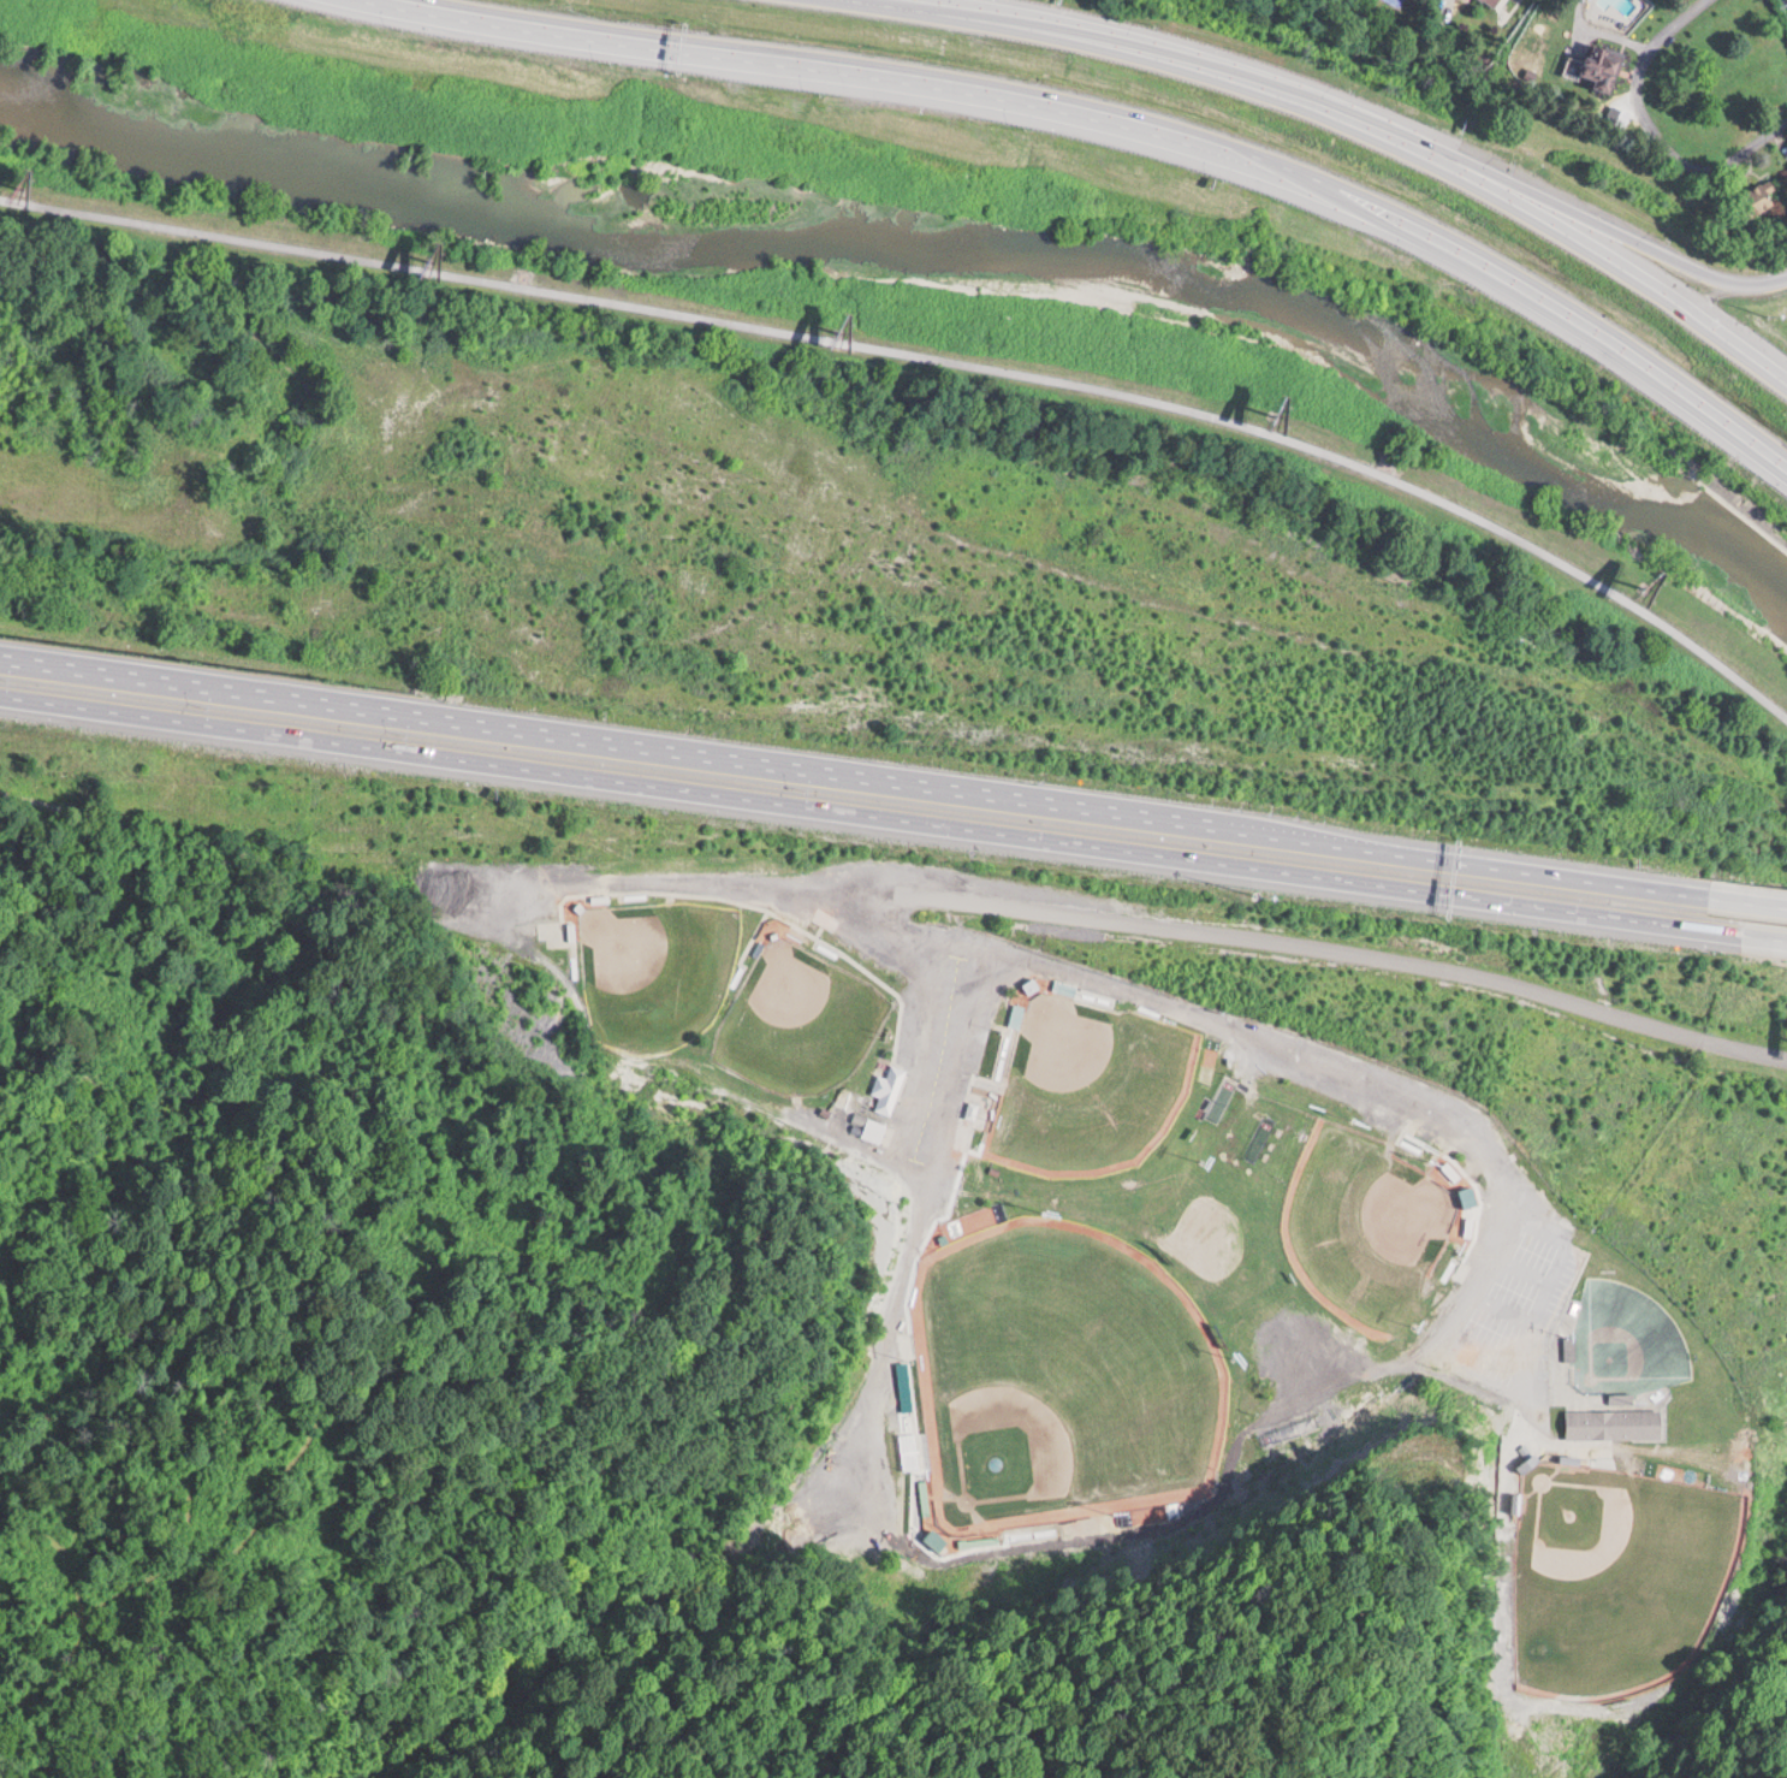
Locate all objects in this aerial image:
building: (1489, 2)
road: (1169, 45)
building: (1604, 67)
road: (1127, 120)
road: (1646, 129)
building: (1765, 197)
road: (1585, 214)
river: (936, 238)
road: (1593, 244)
road: (930, 352)
road: (844, 754)
road: (848, 801)
road: (1738, 885)
road: (1157, 923)
road: (1743, 923)
building: (545, 929)
building: (1067, 985)
building: (890, 1087)
building: (973, 1109)
building: (875, 1128)
building: (1450, 1170)
park: (1212, 1220)
building: (906, 1343)

